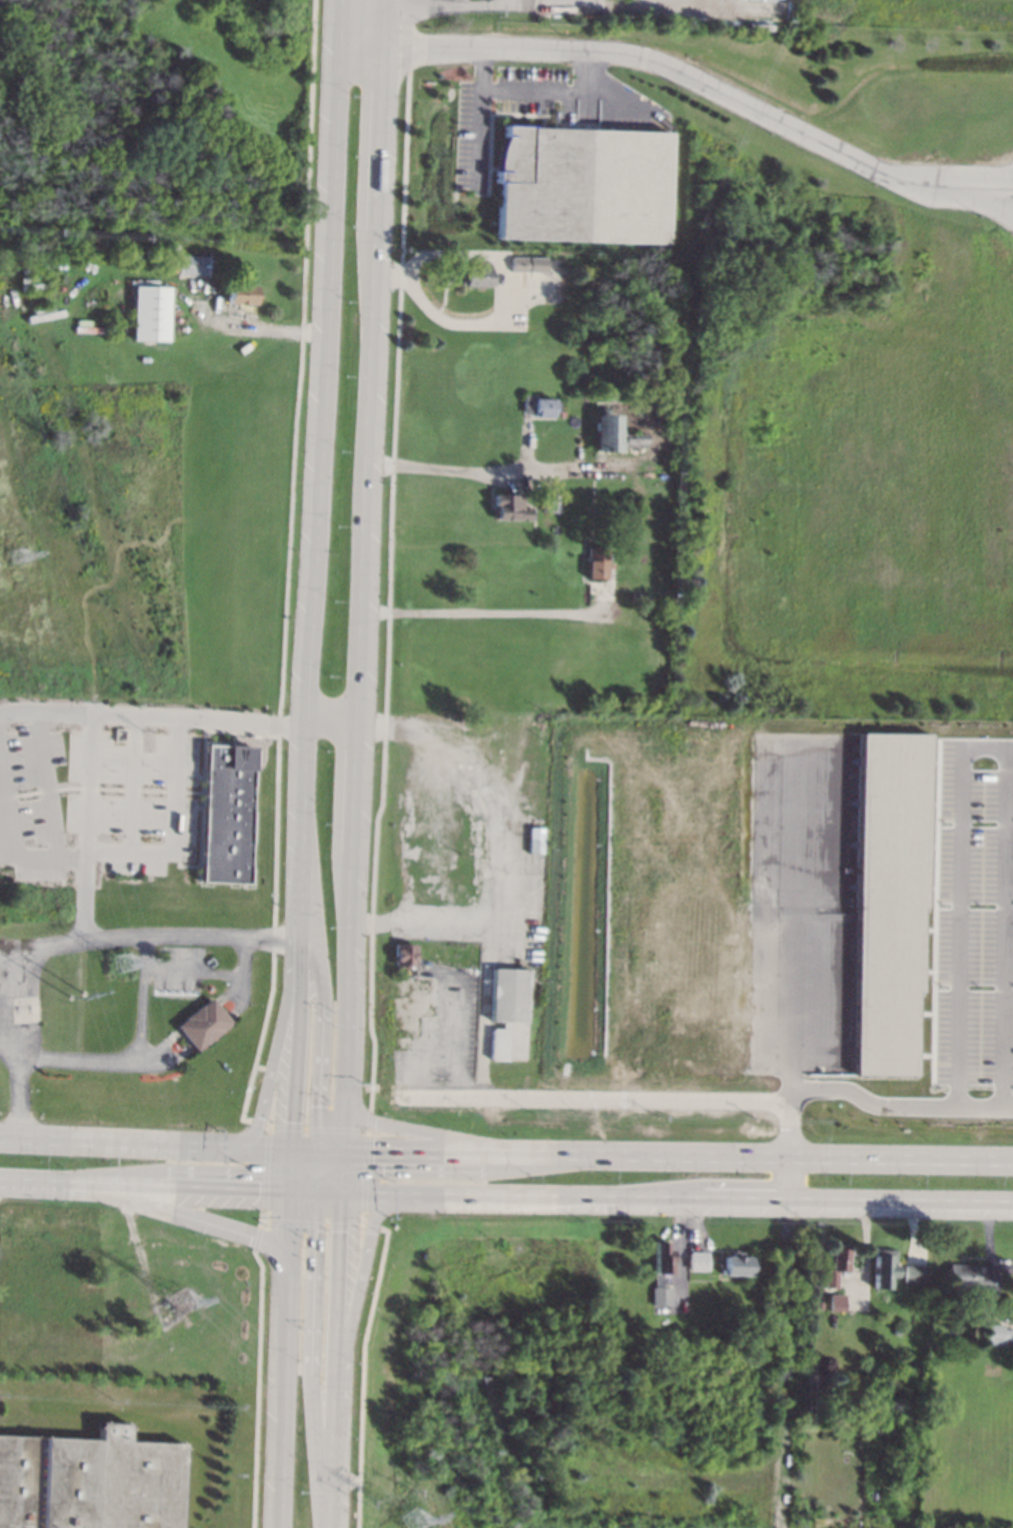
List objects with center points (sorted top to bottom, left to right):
road: (451, 5)
road: (685, 72)
road: (553, 93)
road: (478, 119)
parking lot: (472, 154)
building: (542, 183)
building: (155, 261)
building: (164, 263)
building: (192, 264)
building: (527, 264)
building: (475, 276)
building: (240, 293)
road: (497, 310)
building: (151, 312)
road: (258, 330)
building: (540, 406)
road: (321, 427)
building: (610, 427)
road: (475, 471)
building: (549, 501)
building: (507, 506)
road: (365, 548)
power tower: (18, 555)
building: (595, 563)
building: (634, 597)
road: (478, 613)
road: (179, 717)
road: (983, 743)
road: (132, 783)
road: (47, 784)
road: (485, 787)
parking lot: (136, 799)
parking lot: (31, 805)
building: (227, 814)
road: (88, 827)
road: (173, 828)
road: (13, 837)
building: (535, 840)
road: (296, 896)
road: (304, 897)
building: (889, 898)
parking lot: (975, 912)
road: (795, 918)
road: (267, 937)
road: (297, 938)
road: (485, 944)
road: (46, 949)
road: (20, 951)
building: (407, 955)
power tower: (124, 961)
parking lot: (178, 968)
road: (211, 971)
road: (322, 977)
power tower: (81, 995)
building: (509, 1012)
building: (204, 1024)
road: (10, 1030)
road: (456, 1032)
parking lot: (446, 1037)
road: (298, 1044)
road: (277, 1047)
road: (141, 1060)
road: (422, 1071)
road: (641, 1096)
traffic signals: (320, 1106)
road: (892, 1106)
traffic signals: (296, 1122)
road: (346, 1124)
road: (430, 1133)
road: (120, 1141)
road: (267, 1148)
road: (309, 1150)
road: (334, 1151)
traffic signals: (378, 1152)
road: (679, 1155)
road: (294, 1170)
road: (305, 1171)
road: (333, 1172)
road: (344, 1173)
road: (147, 1184)
traffic signals: (263, 1190)
road: (304, 1191)
road: (329, 1193)
road: (678, 1199)
road: (189, 1215)
traffic signals: (317, 1231)
traffic signals: (341, 1231)
traffic signals: (255, 1236)
building: (661, 1257)
building: (697, 1260)
building: (737, 1265)
building: (834, 1265)
building: (881, 1267)
building: (913, 1273)
building: (969, 1277)
building: (660, 1295)
power tower: (186, 1301)
building: (836, 1301)
building: (817, 1304)
road: (355, 1309)
building: (895, 1331)
building: (997, 1333)
road: (287, 1359)
road: (312, 1360)
road: (335, 1360)
road: (782, 1364)
park: (420, 1398)
building: (91, 1481)
building: (873, 1495)
power tower: (413, 1521)
building: (818, 1521)

